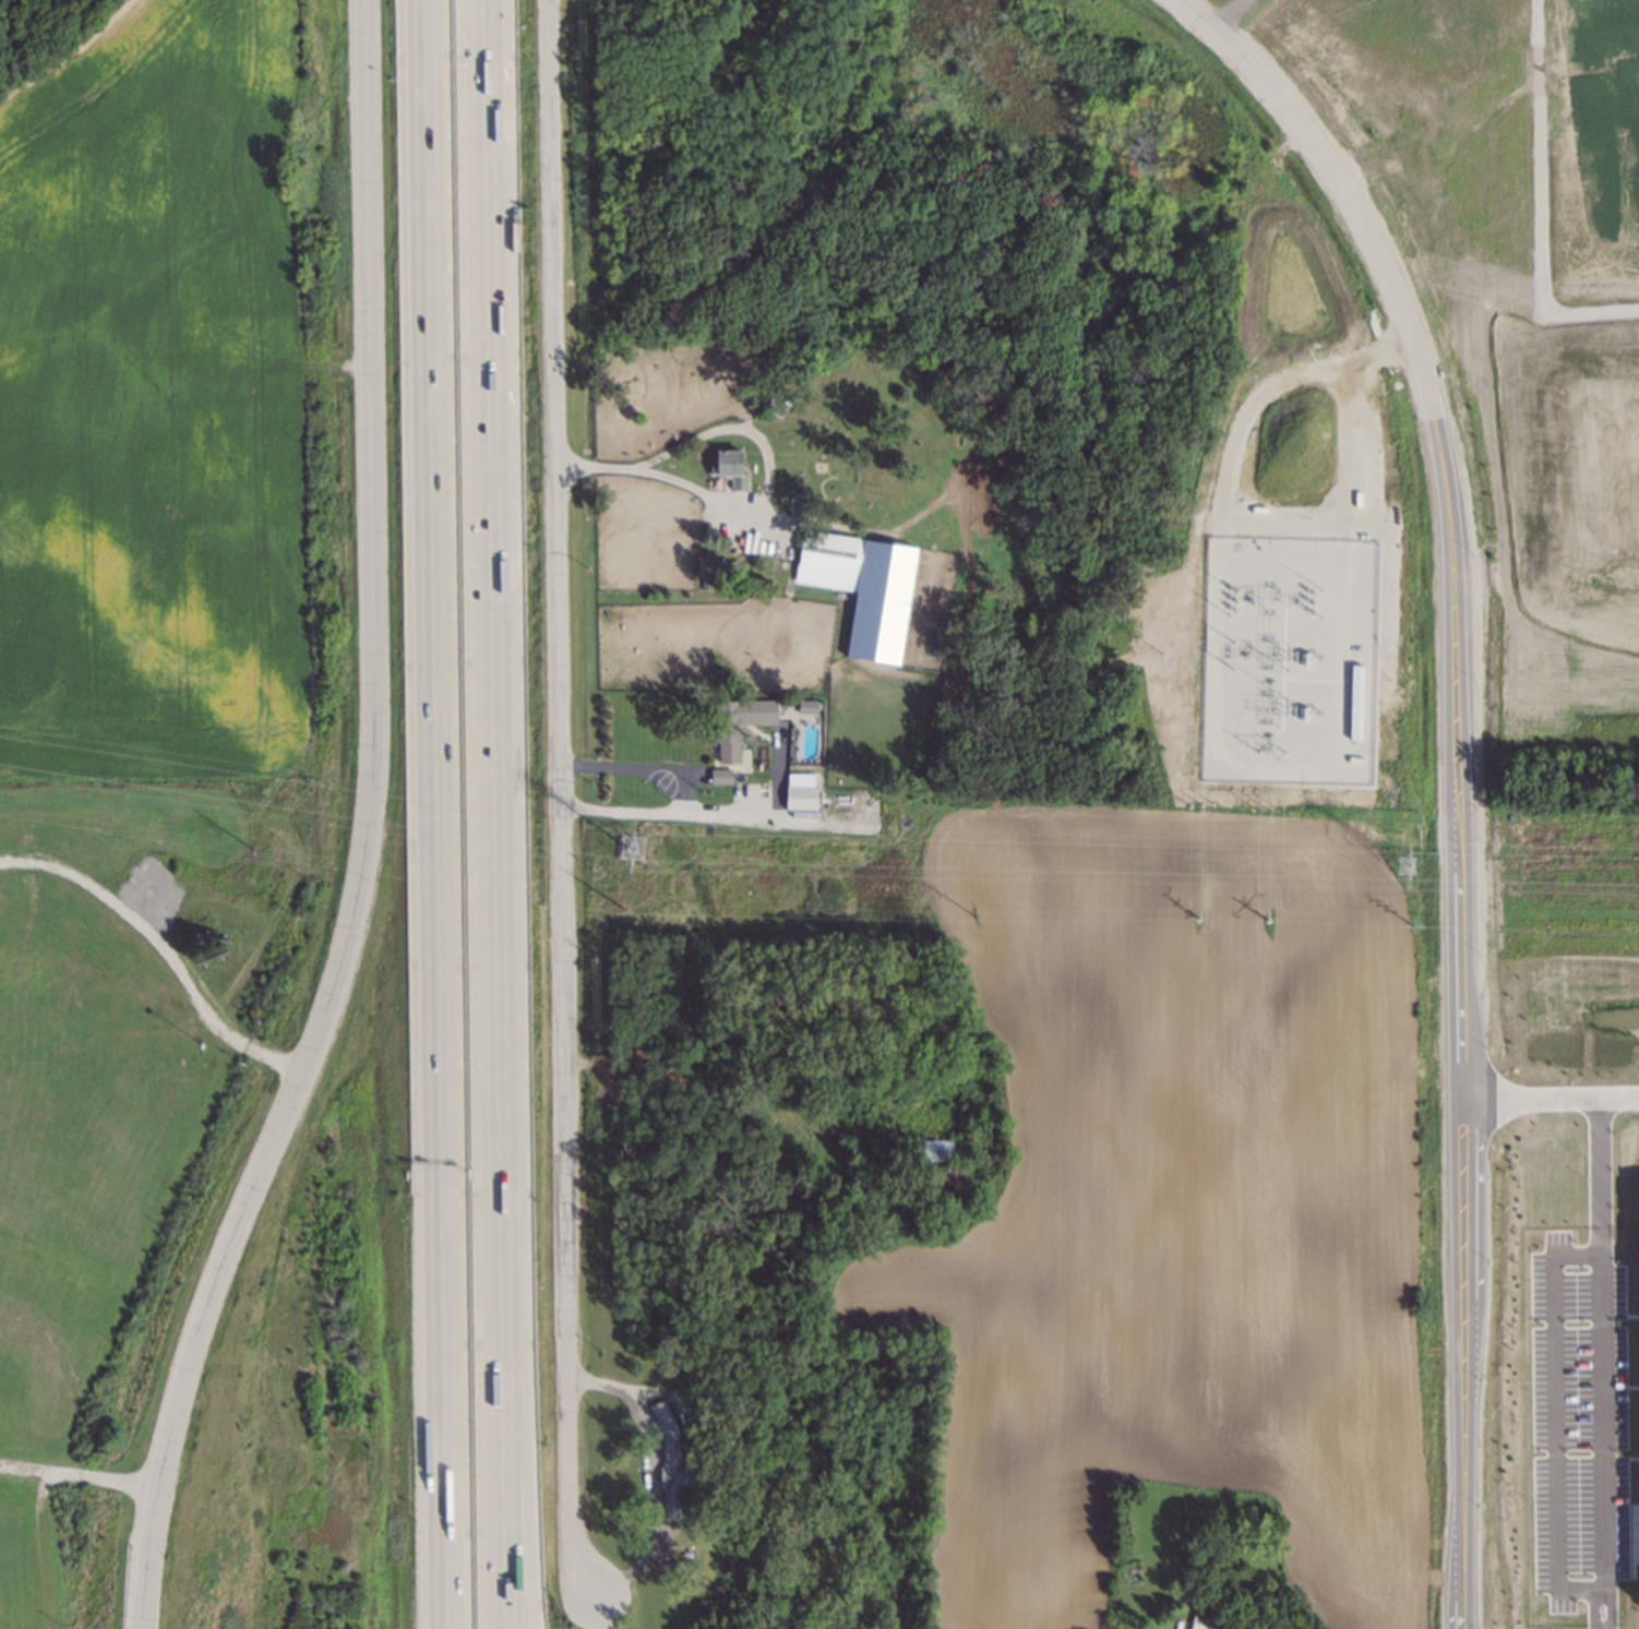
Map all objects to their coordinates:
building: (773, 408)
building: (729, 468)
road: (753, 498)
building: (799, 501)
building: (713, 568)
building: (863, 590)
building: (806, 707)
building: (738, 724)
road: (1451, 775)
building: (720, 778)
building: (800, 792)
road: (680, 796)
road: (563, 803)
road: (433, 814)
road: (499, 814)
road: (744, 816)
road: (366, 833)
power tower: (634, 865)
power tower: (1411, 877)
power tower: (622, 909)
road: (164, 945)
building: (638, 1076)
road: (1547, 1092)
road: (734, 1099)
building: (935, 1152)
building: (949, 1183)
crop: (1182, 1208)
road: (1602, 1361)
building: (673, 1461)
road: (77, 1475)
road: (653, 1475)
road: (525, 1513)
road: (41, 1548)
parking lot: (12, 1557)
building: (1208, 1624)

